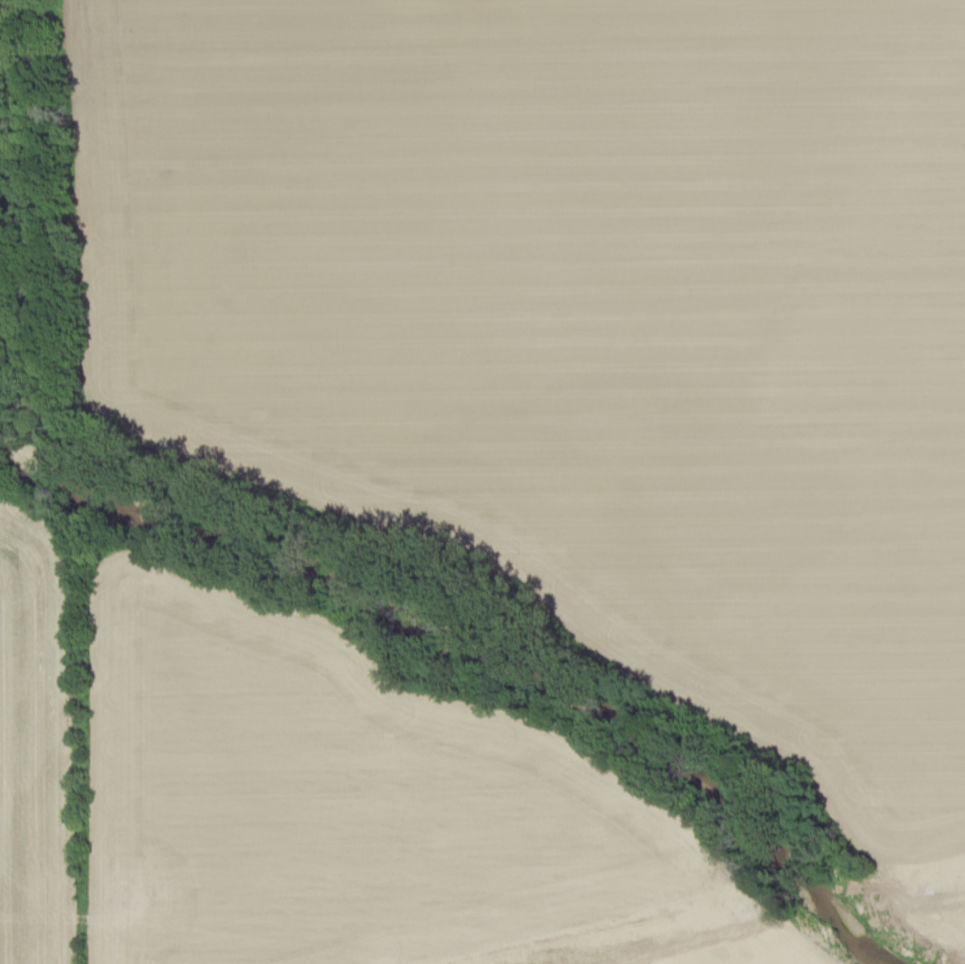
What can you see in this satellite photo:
road: (935, 926)
road: (863, 944)
road: (800, 959)

